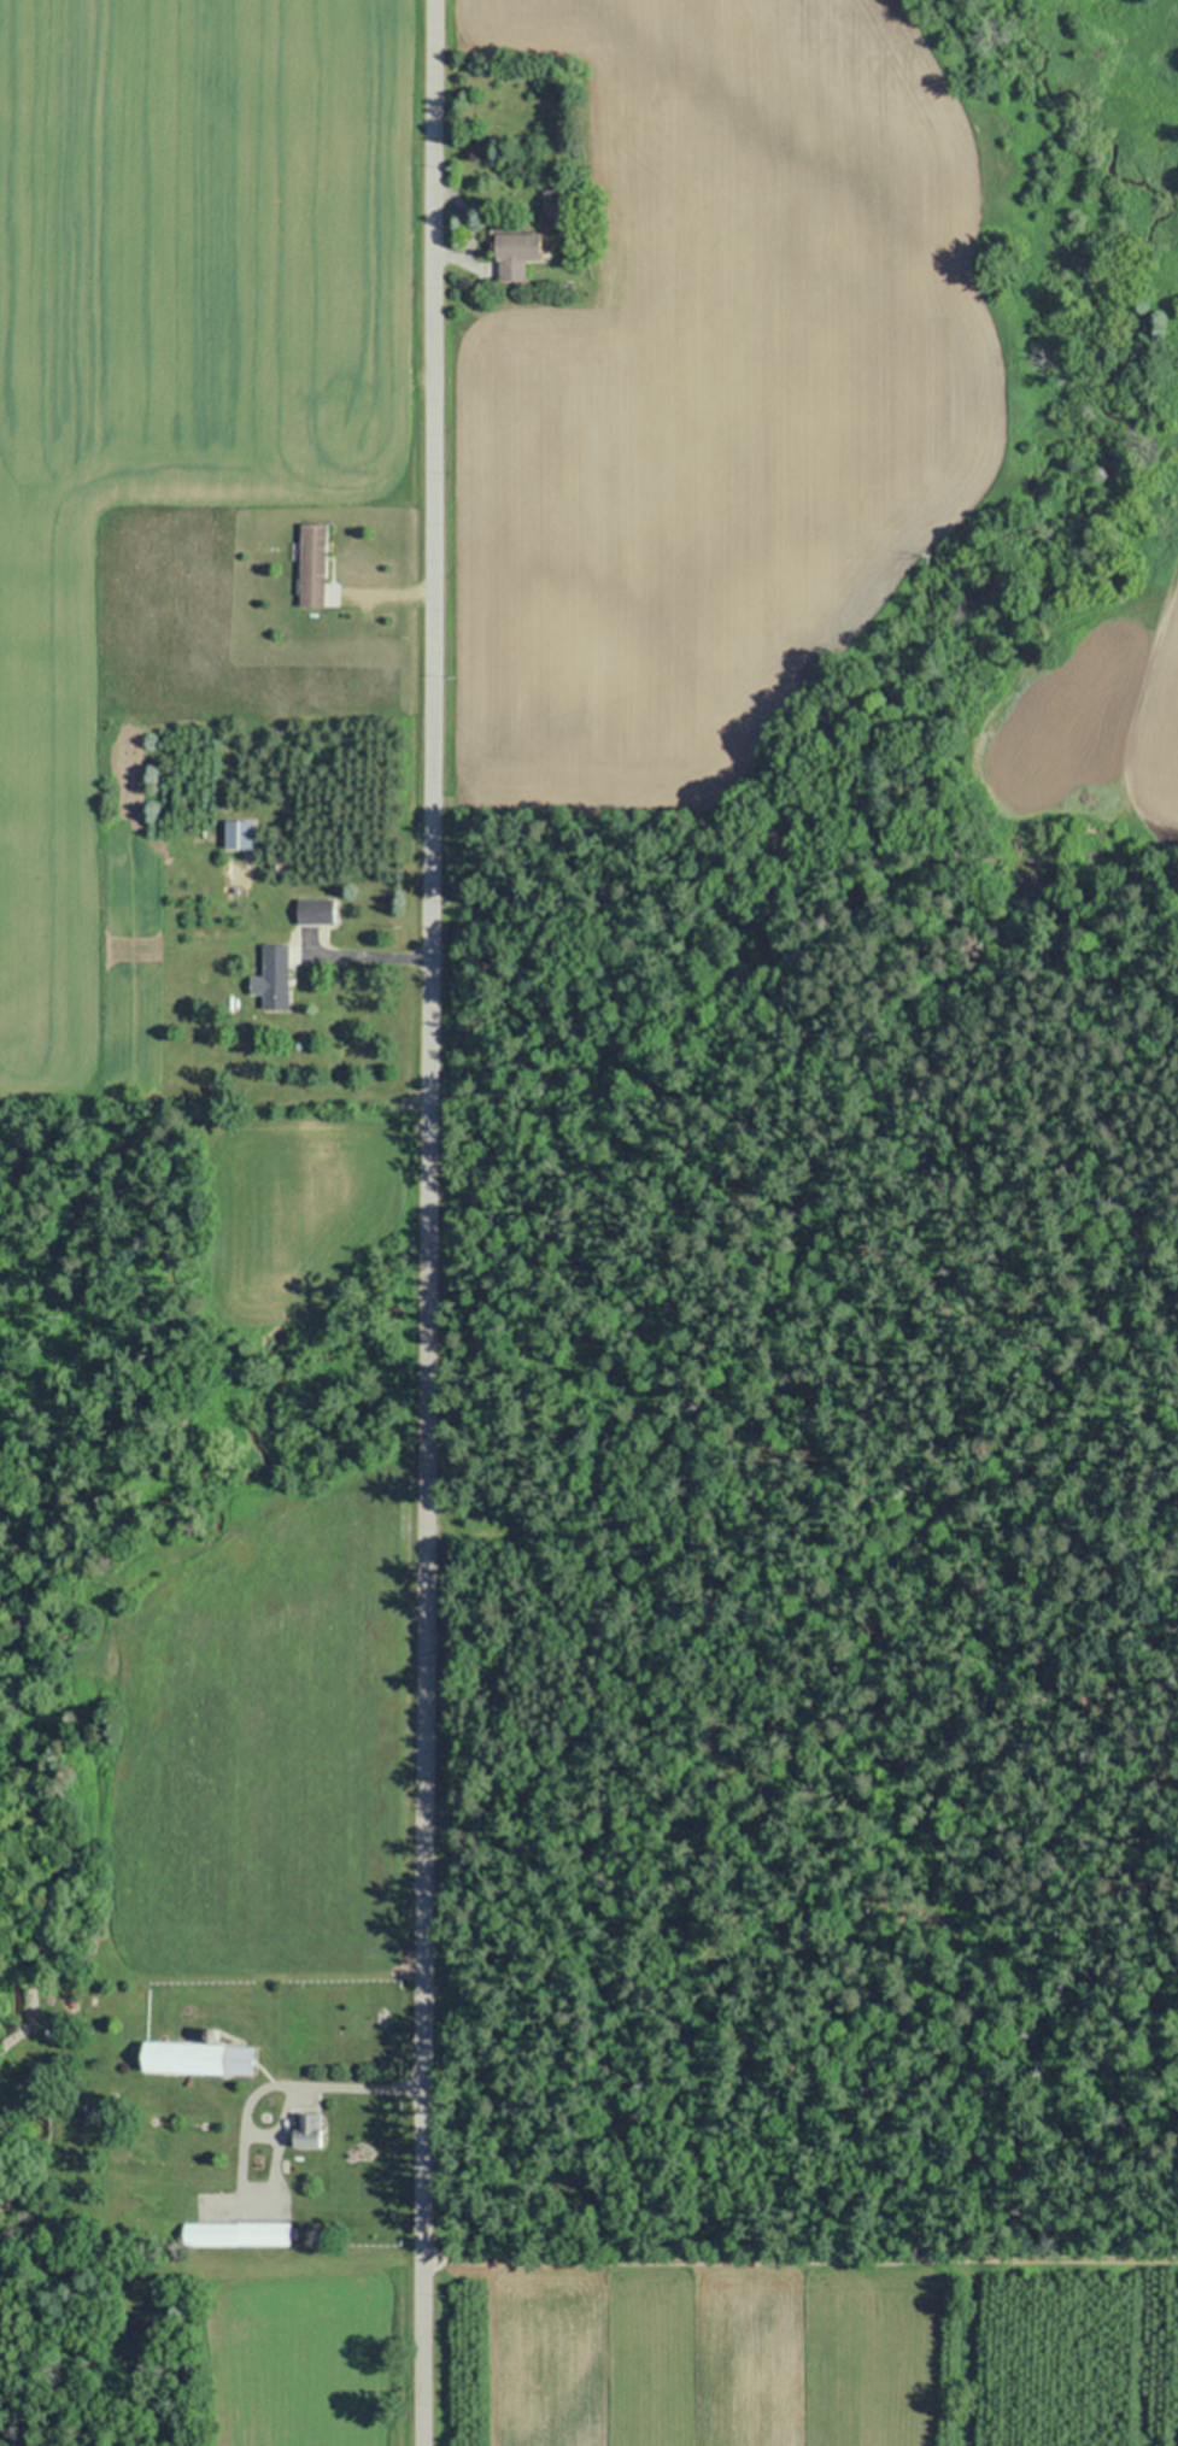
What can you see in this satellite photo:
road: (451, 254)
building: (517, 254)
building: (312, 565)
road: (397, 589)
road: (1136, 723)
building: (238, 834)
building: (315, 911)
road: (373, 956)
building: (275, 978)
road: (428, 1222)
building: (197, 2058)
road: (351, 2086)
building: (307, 2130)
building: (236, 2234)

